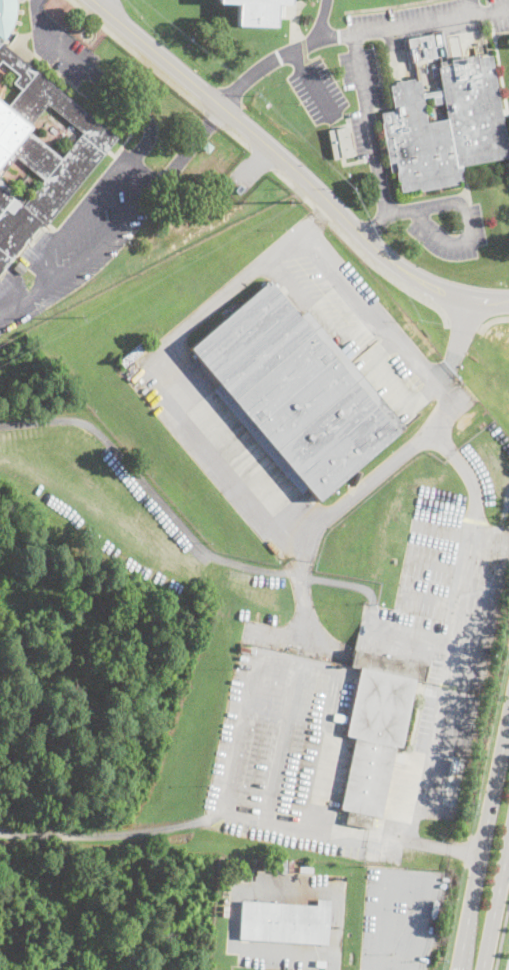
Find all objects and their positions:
road: (100, 3)
road: (470, 8)
building: (258, 11)
parking lot: (404, 15)
parking lot: (499, 15)
road: (413, 23)
parking lot: (60, 46)
building: (421, 46)
road: (283, 57)
road: (160, 74)
parking lot: (362, 74)
road: (101, 81)
road: (312, 83)
parking lot: (317, 91)
road: (369, 122)
building: (445, 125)
parking lot: (361, 134)
road: (266, 143)
building: (339, 143)
road: (187, 147)
building: (39, 148)
building: (206, 148)
road: (263, 158)
road: (256, 161)
road: (137, 169)
building: (24, 179)
building: (239, 188)
power tower: (292, 205)
road: (407, 210)
building: (56, 219)
parking lot: (423, 236)
parking lot: (83, 237)
road: (452, 241)
road: (359, 252)
building: (20, 267)
road: (19, 299)
road: (472, 300)
road: (326, 307)
power tower: (79, 317)
road: (492, 320)
parking lot: (362, 323)
road: (464, 324)
building: (135, 353)
road: (144, 359)
road: (187, 366)
building: (294, 392)
road: (498, 528)
road: (187, 529)
road: (435, 566)
road: (299, 591)
road: (428, 600)
parking lot: (445, 619)
road: (453, 631)
road: (473, 650)
road: (296, 665)
building: (339, 717)
building: (376, 731)
road: (281, 743)
parking lot: (287, 756)
building: (457, 766)
road: (312, 830)
road: (112, 834)
road: (483, 842)
road: (442, 847)
building: (306, 870)
road: (409, 875)
building: (236, 877)
road: (237, 888)
road: (495, 903)
parking lot: (400, 919)
building: (285, 922)
road: (502, 936)
park: (504, 947)
parking lot: (272, 954)
road: (332, 961)
building: (320, 963)

